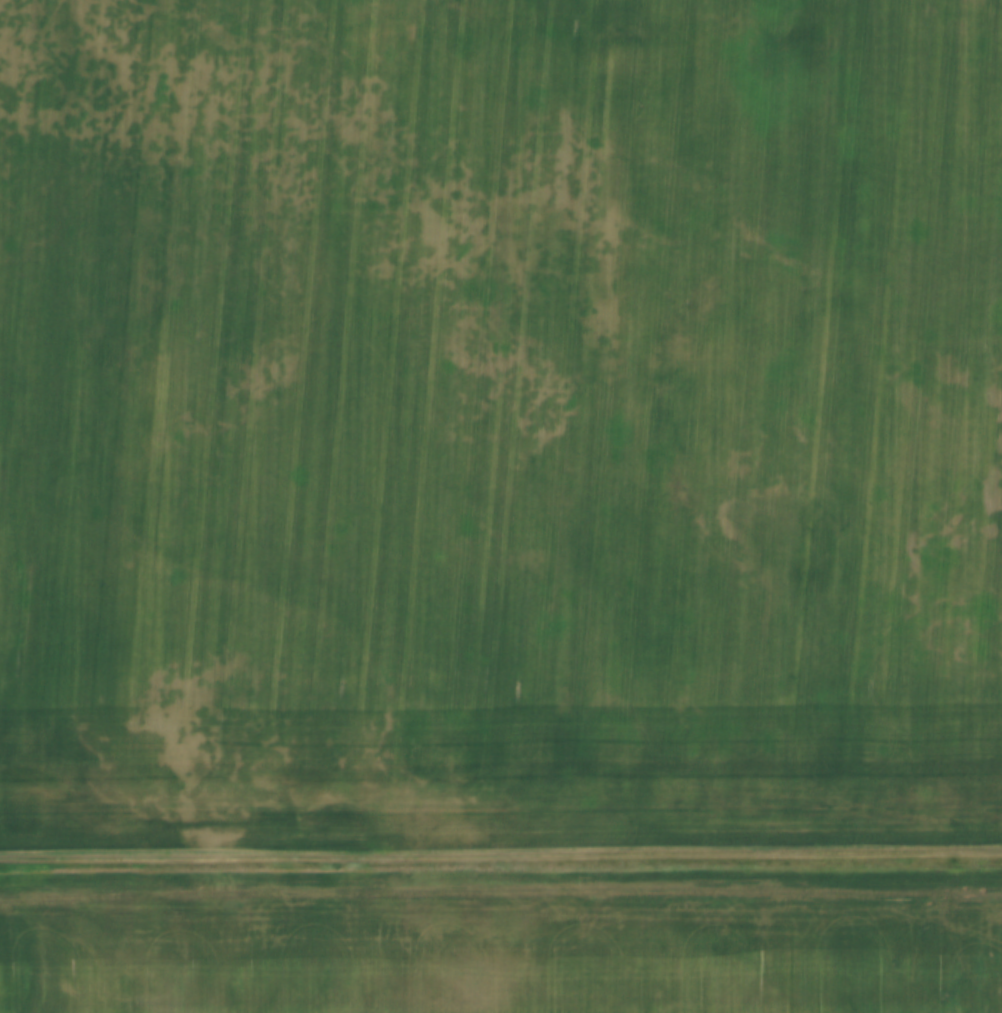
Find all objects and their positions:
road: (501, 856)

